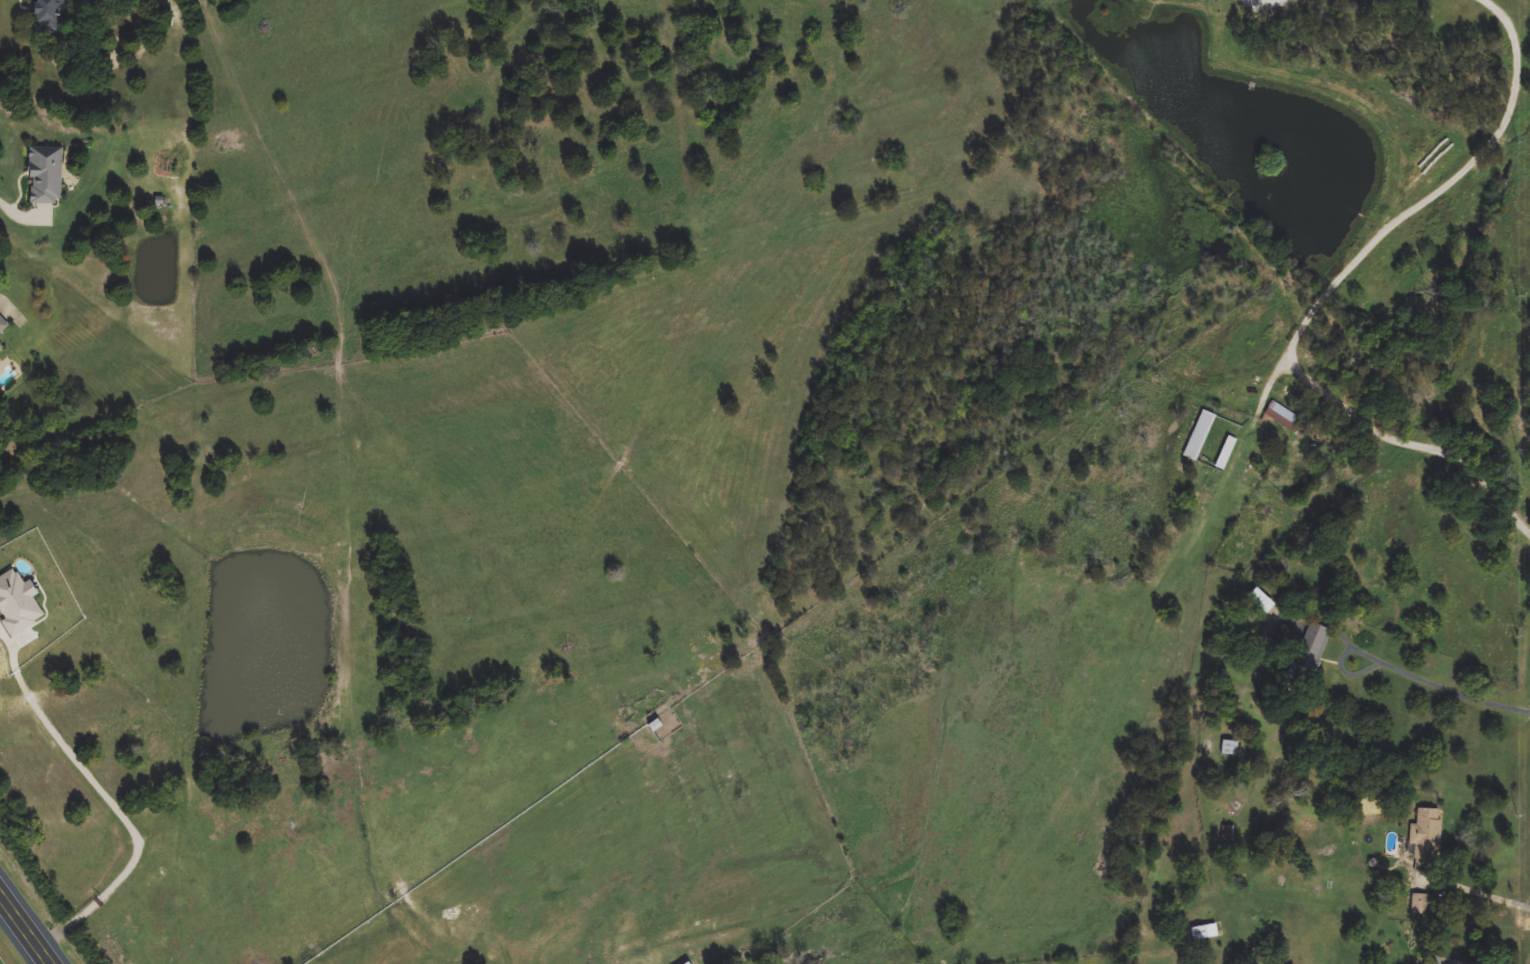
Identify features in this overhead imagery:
building: (50, 18)
building: (43, 176)
road: (25, 216)
road: (1395, 226)
building: (3, 325)
building: (2, 350)
building: (1284, 417)
building: (1200, 435)
building: (1227, 453)
road: (1215, 574)
building: (1262, 601)
building: (16, 604)
building: (1313, 647)
road: (1442, 687)
building: (1231, 747)
road: (120, 810)
building: (1229, 833)
building: (1427, 840)
road: (1476, 891)
road: (25, 928)
building: (1200, 933)
building: (1434, 960)
building: (688, 963)

